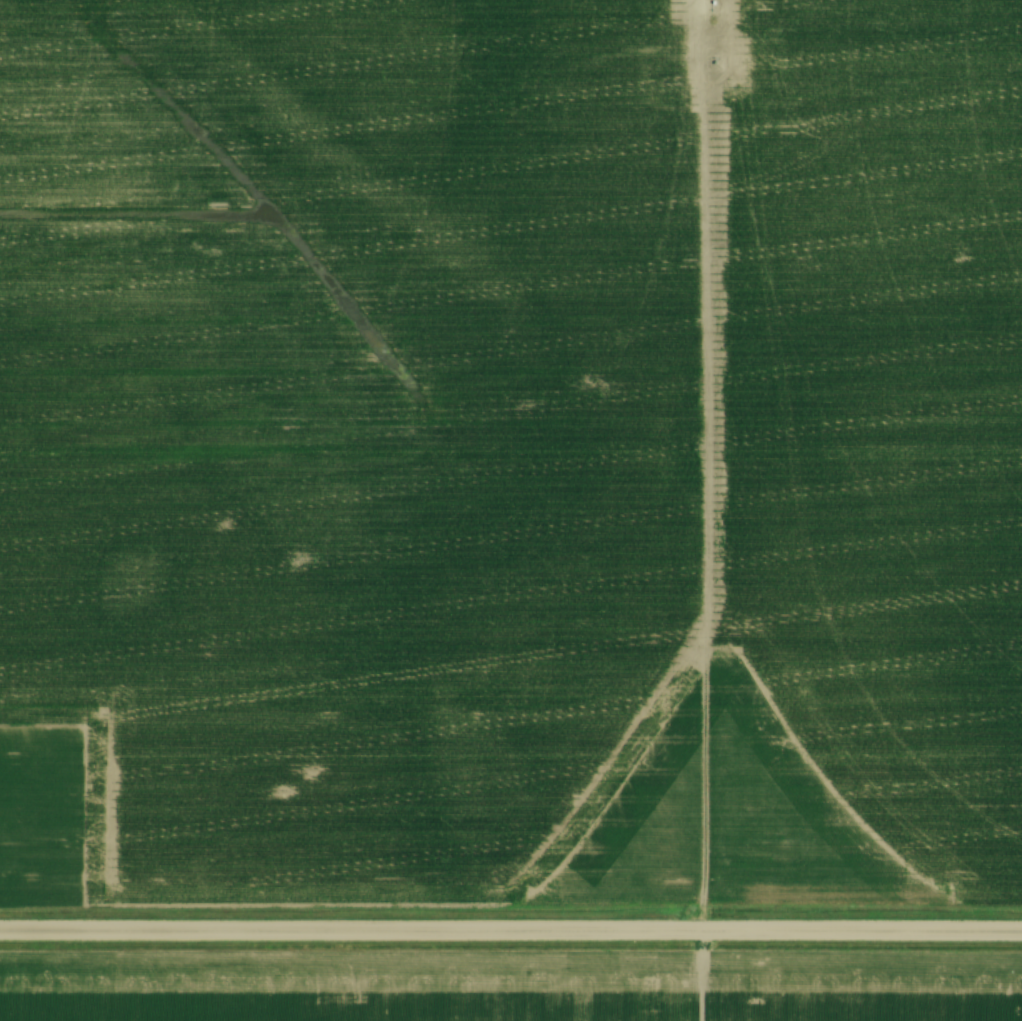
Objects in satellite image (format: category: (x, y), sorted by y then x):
road: (511, 931)

